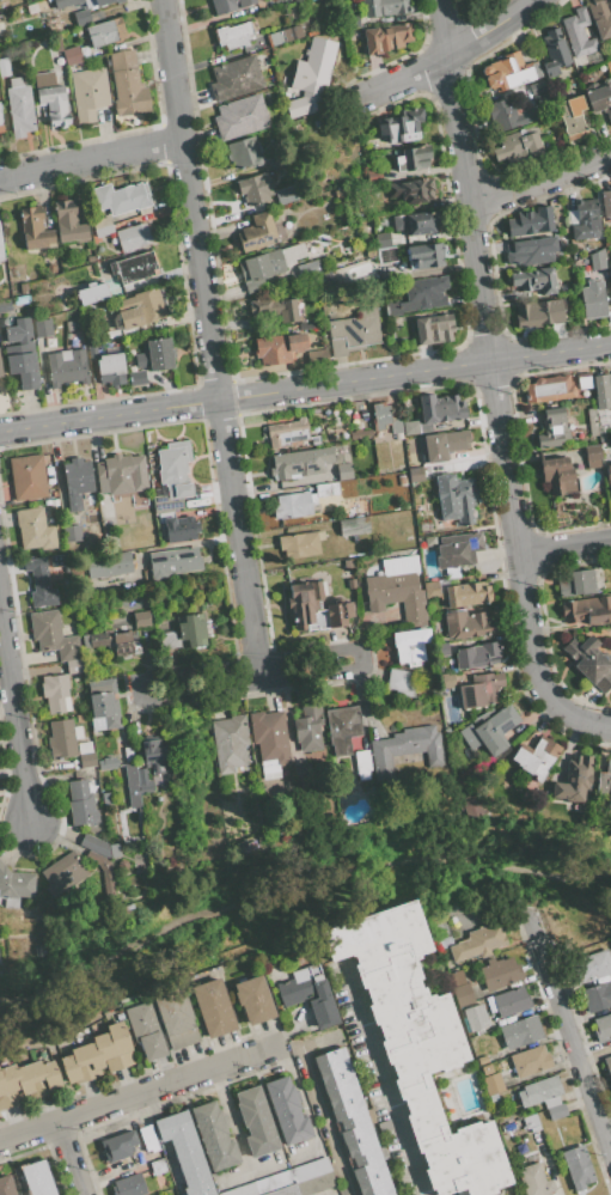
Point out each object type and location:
building: (41, 4)
building: (4, 5)
building: (62, 5)
building: (230, 5)
building: (384, 7)
building: (600, 17)
building: (353, 20)
building: (66, 22)
building: (1, 29)
building: (106, 31)
building: (578, 33)
building: (234, 35)
building: (285, 35)
building: (386, 37)
building: (555, 51)
road: (453, 53)
building: (72, 55)
building: (609, 65)
building: (4, 67)
building: (509, 72)
building: (311, 77)
building: (236, 79)
building: (127, 84)
building: (537, 87)
building: (87, 93)
building: (600, 97)
building: (51, 98)
building: (19, 108)
building: (503, 115)
building: (240, 117)
building: (572, 117)
building: (0, 124)
building: (401, 127)
building: (518, 147)
building: (245, 152)
road: (91, 158)
building: (413, 158)
building: (373, 176)
road: (539, 179)
building: (255, 189)
building: (413, 190)
building: (343, 193)
building: (285, 195)
building: (121, 197)
building: (606, 205)
building: (585, 220)
building: (68, 222)
building: (416, 222)
building: (530, 222)
building: (102, 226)
building: (33, 230)
building: (261, 232)
building: (133, 237)
building: (381, 239)
building: (1, 251)
building: (531, 251)
building: (386, 255)
building: (424, 256)
building: (90, 258)
building: (598, 260)
building: (133, 267)
building: (51, 268)
building: (308, 268)
building: (259, 269)
building: (609, 270)
building: (537, 280)
building: (24, 288)
building: (92, 293)
building: (424, 293)
building: (593, 299)
building: (22, 300)
building: (5, 305)
building: (274, 309)
building: (141, 310)
building: (538, 313)
building: (42, 328)
building: (434, 329)
building: (354, 333)
building: (94, 339)
road: (209, 339)
building: (279, 348)
building: (91, 352)
building: (20, 353)
building: (154, 354)
building: (318, 358)
building: (66, 367)
building: (110, 370)
building: (0, 372)
building: (136, 377)
building: (583, 380)
road: (493, 385)
road: (305, 388)
building: (548, 389)
building: (603, 391)
building: (439, 409)
building: (379, 416)
building: (395, 425)
building: (552, 428)
building: (360, 433)
building: (291, 434)
building: (441, 445)
building: (593, 456)
building: (299, 463)
building: (343, 471)
building: (607, 472)
building: (121, 474)
building: (172, 475)
building: (558, 475)
building: (49, 476)
building: (26, 478)
building: (75, 481)
building: (326, 489)
building: (454, 499)
building: (51, 504)
building: (293, 505)
building: (397, 505)
building: (91, 518)
building: (383, 522)
building: (179, 529)
building: (356, 529)
building: (33, 530)
building: (71, 534)
building: (300, 544)
building: (457, 549)
road: (564, 549)
building: (172, 562)
building: (56, 563)
building: (108, 565)
building: (348, 565)
building: (399, 565)
building: (38, 583)
building: (579, 583)
building: (352, 584)
building: (430, 589)
building: (464, 593)
building: (396, 596)
building: (314, 608)
building: (587, 610)
building: (141, 618)
building: (466, 624)
building: (191, 630)
building: (53, 635)
building: (167, 639)
building: (112, 641)
building: (409, 645)
road: (350, 647)
building: (442, 650)
building: (476, 656)
building: (589, 660)
building: (74, 666)
building: (446, 681)
building: (401, 682)
building: (479, 690)
building: (55, 693)
building: (103, 706)
road: (18, 712)
building: (79, 718)
building: (307, 728)
building: (342, 728)
building: (487, 731)
building: (62, 738)
building: (269, 742)
building: (230, 744)
building: (405, 749)
building: (154, 752)
building: (128, 754)
building: (85, 755)
building: (534, 757)
building: (106, 763)
building: (361, 763)
building: (303, 775)
building: (141, 776)
building: (574, 780)
building: (155, 781)
building: (605, 782)
building: (132, 785)
building: (373, 789)
building: (104, 799)
building: (83, 801)
building: (472, 809)
building: (282, 836)
building: (99, 847)
building: (242, 848)
building: (154, 853)
building: (57, 866)
building: (14, 886)
building: (439, 927)
building: (477, 943)
building: (42, 951)
building: (591, 967)
building: (500, 973)
building: (459, 988)
building: (291, 996)
building: (597, 996)
building: (253, 999)
building: (511, 1001)
building: (489, 1005)
building: (213, 1007)
building: (117, 1010)
building: (176, 1018)
building: (475, 1018)
building: (493, 1024)
building: (603, 1028)
building: (145, 1030)
building: (520, 1032)
road: (570, 1037)
building: (416, 1044)
building: (114, 1047)
building: (482, 1060)
building: (530, 1061)
building: (80, 1063)
building: (607, 1066)
building: (38, 1079)
building: (490, 1080)
building: (7, 1084)
road: (384, 1084)
road: (138, 1091)
building: (540, 1092)
building: (287, 1111)
building: (556, 1112)
road: (325, 1120)
building: (256, 1122)
building: (352, 1122)
building: (531, 1122)
building: (507, 1127)
building: (214, 1135)
building: (147, 1139)
building: (117, 1146)
building: (185, 1152)
road: (68, 1157)
building: (157, 1166)
building: (576, 1167)
building: (36, 1178)
building: (159, 1179)
building: (534, 1179)
building: (291, 1181)
building: (6, 1185)
building: (129, 1185)

